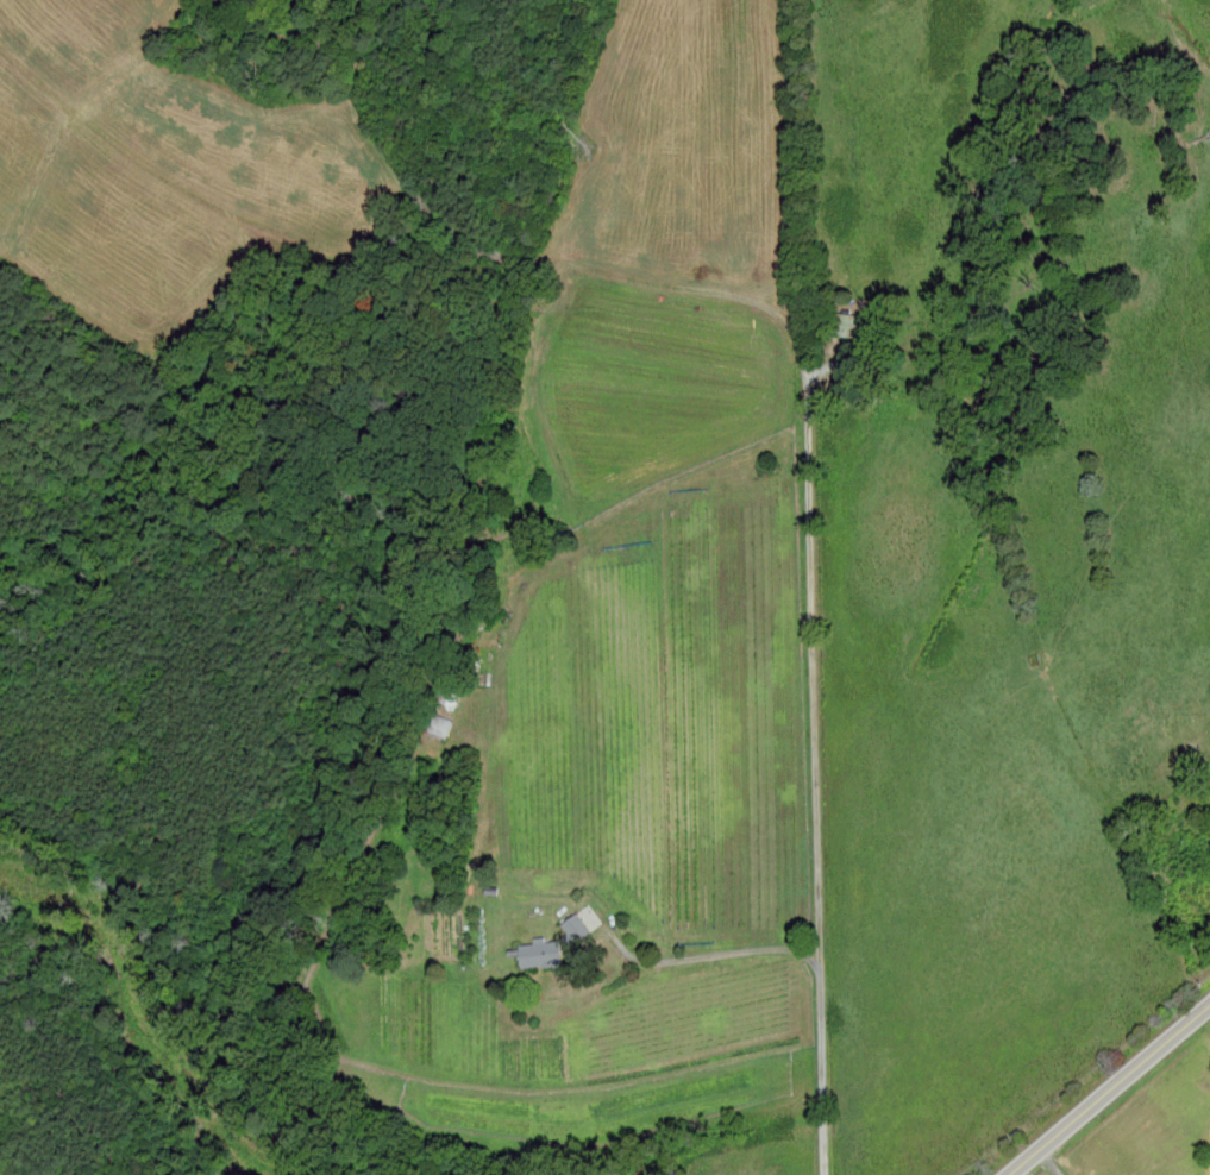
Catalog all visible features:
building: (846, 325)
road: (809, 436)
building: (451, 692)
building: (440, 725)
building: (1195, 899)
building: (553, 944)
road: (701, 957)
road: (1109, 1088)

